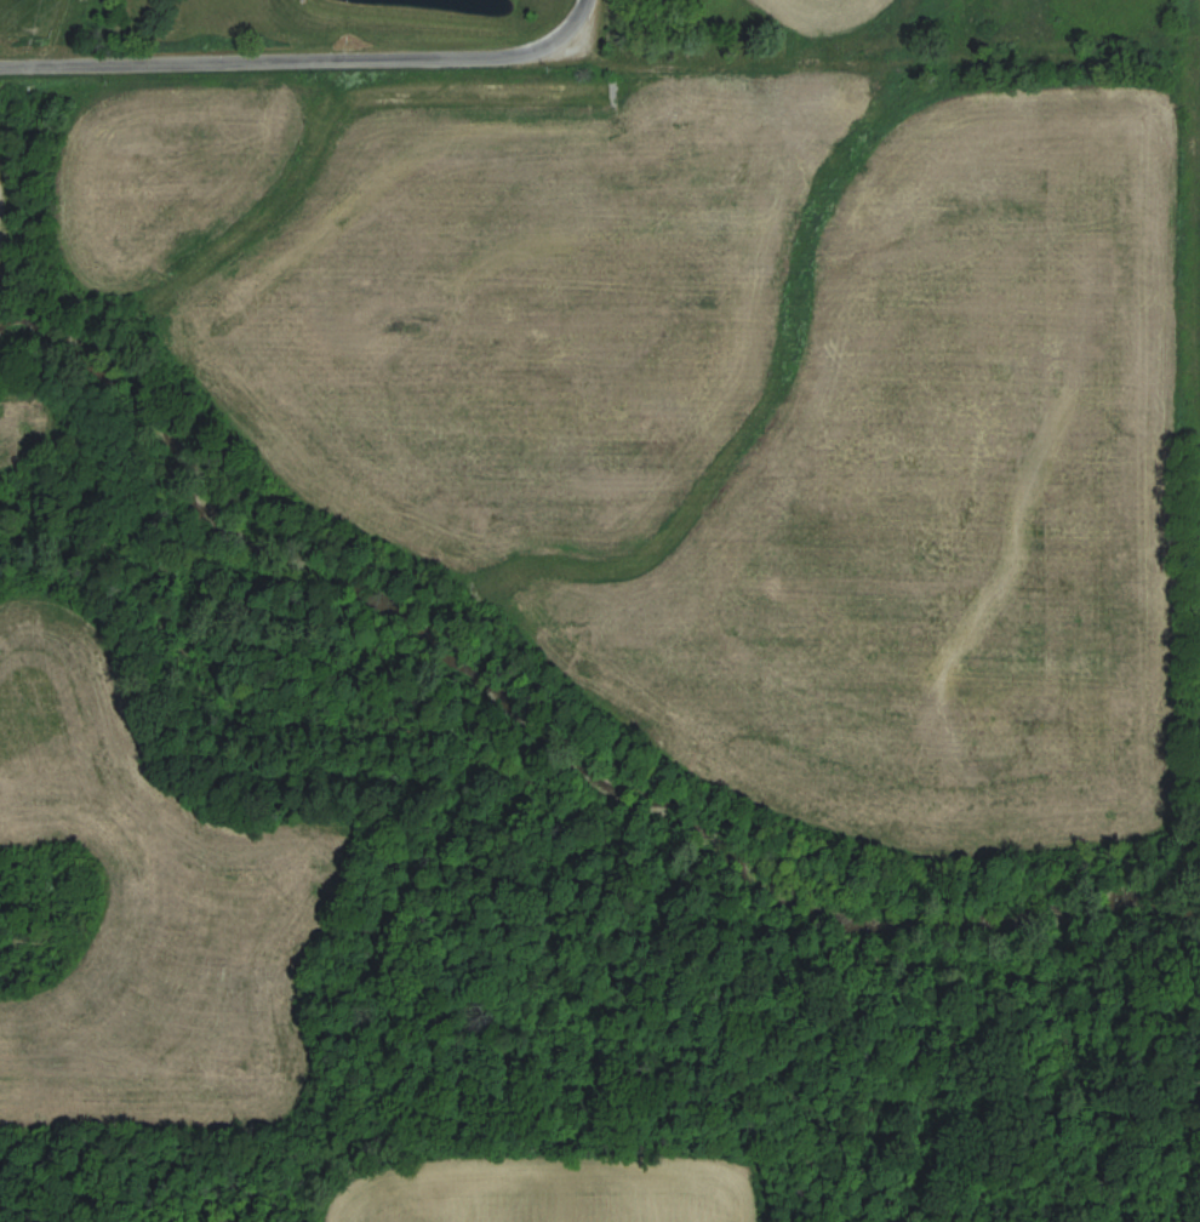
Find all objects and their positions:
road: (309, 65)

